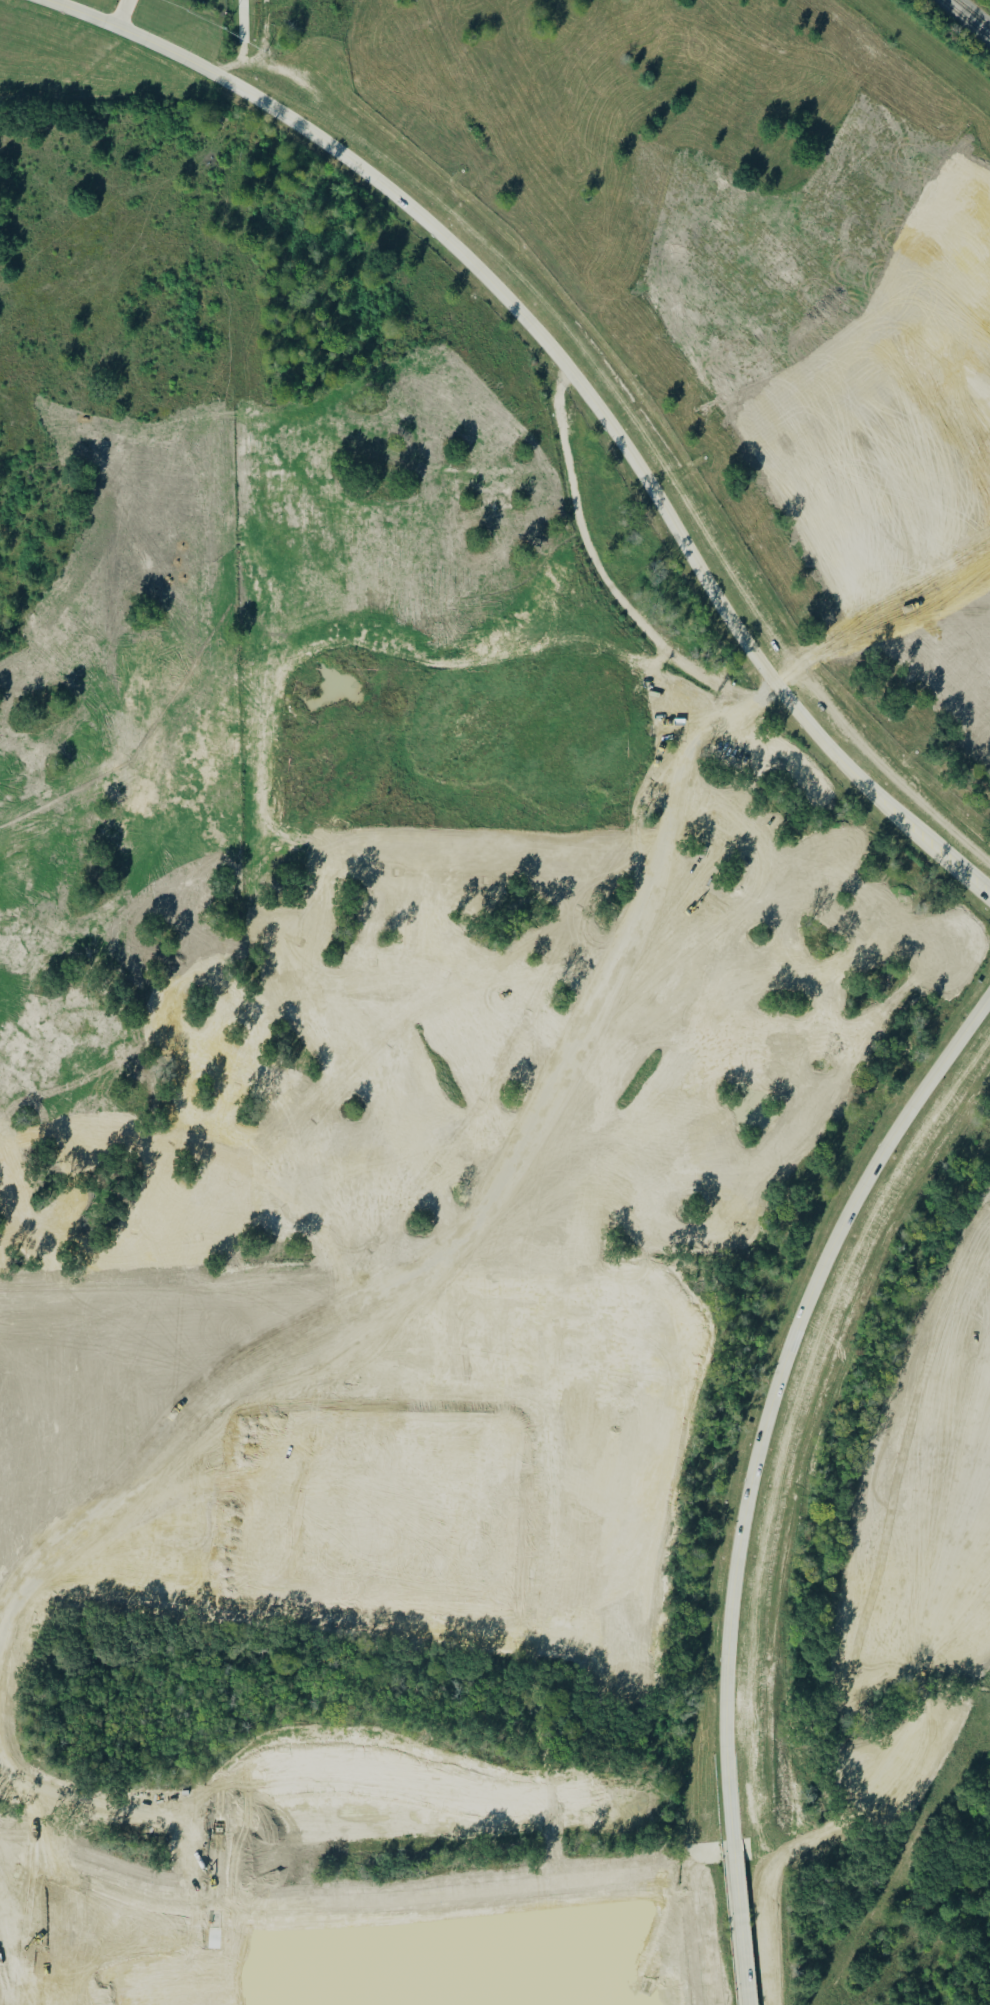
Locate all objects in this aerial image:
road: (120, 13)
railway: (971, 14)
railway: (964, 20)
railway: (929, 48)
road: (206, 217)
road: (100, 380)
road: (577, 382)
road: (149, 547)
road: (206, 562)
road: (171, 721)
road: (497, 850)
road: (195, 893)
road: (138, 1063)
road: (249, 1169)
road: (305, 1183)
road: (109, 1236)
road: (777, 1391)
road: (741, 1922)

